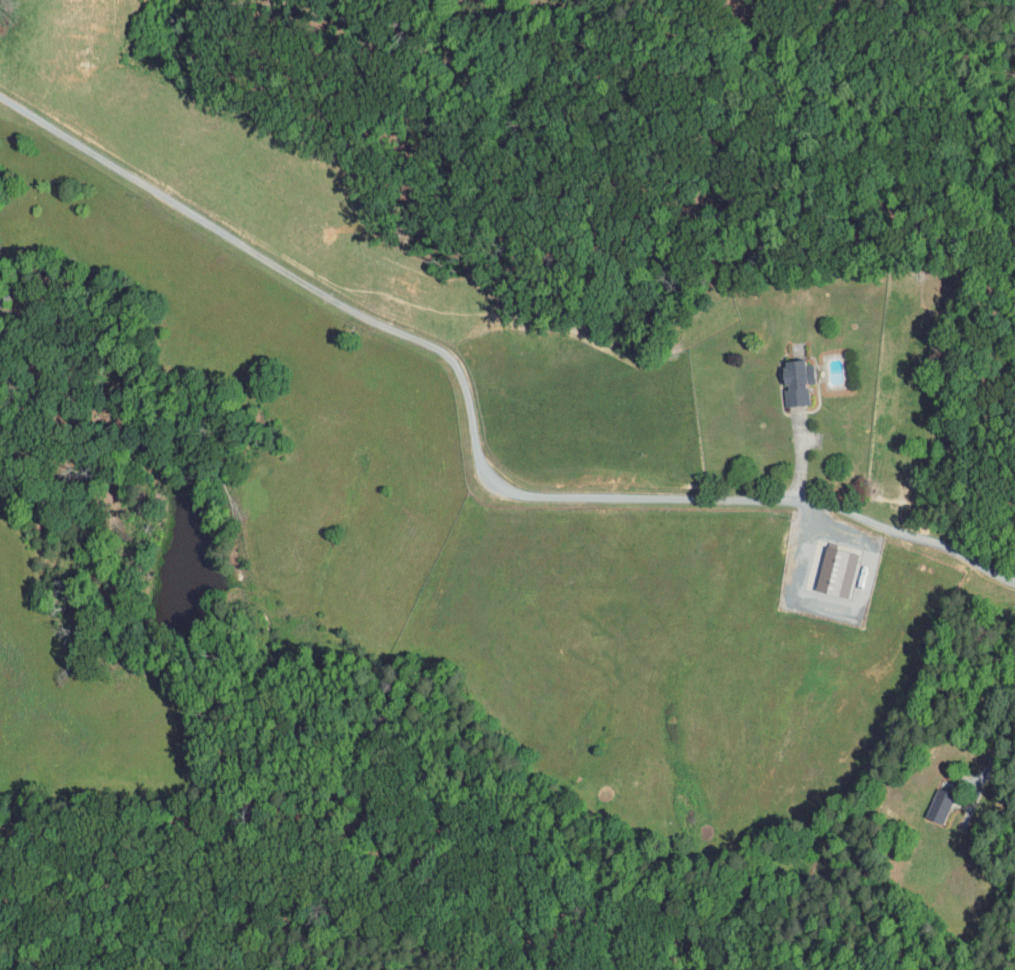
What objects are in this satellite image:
building: (783, 376)
road: (473, 429)
building: (824, 566)
road: (846, 605)
road: (995, 753)
building: (926, 801)

